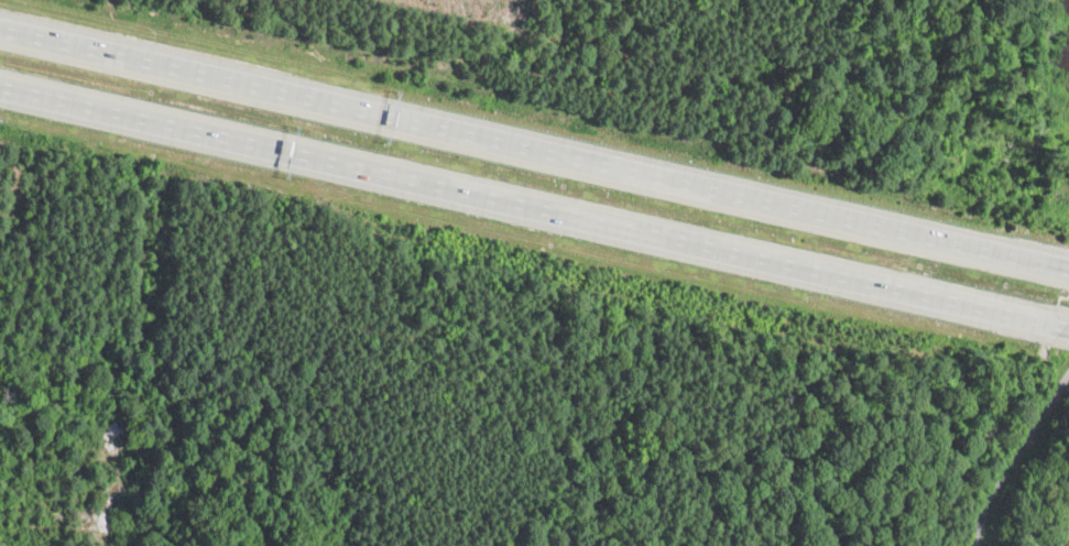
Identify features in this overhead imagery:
park: (1034, 101)
road: (534, 148)
road: (534, 208)
road: (1012, 454)
park: (1018, 474)

